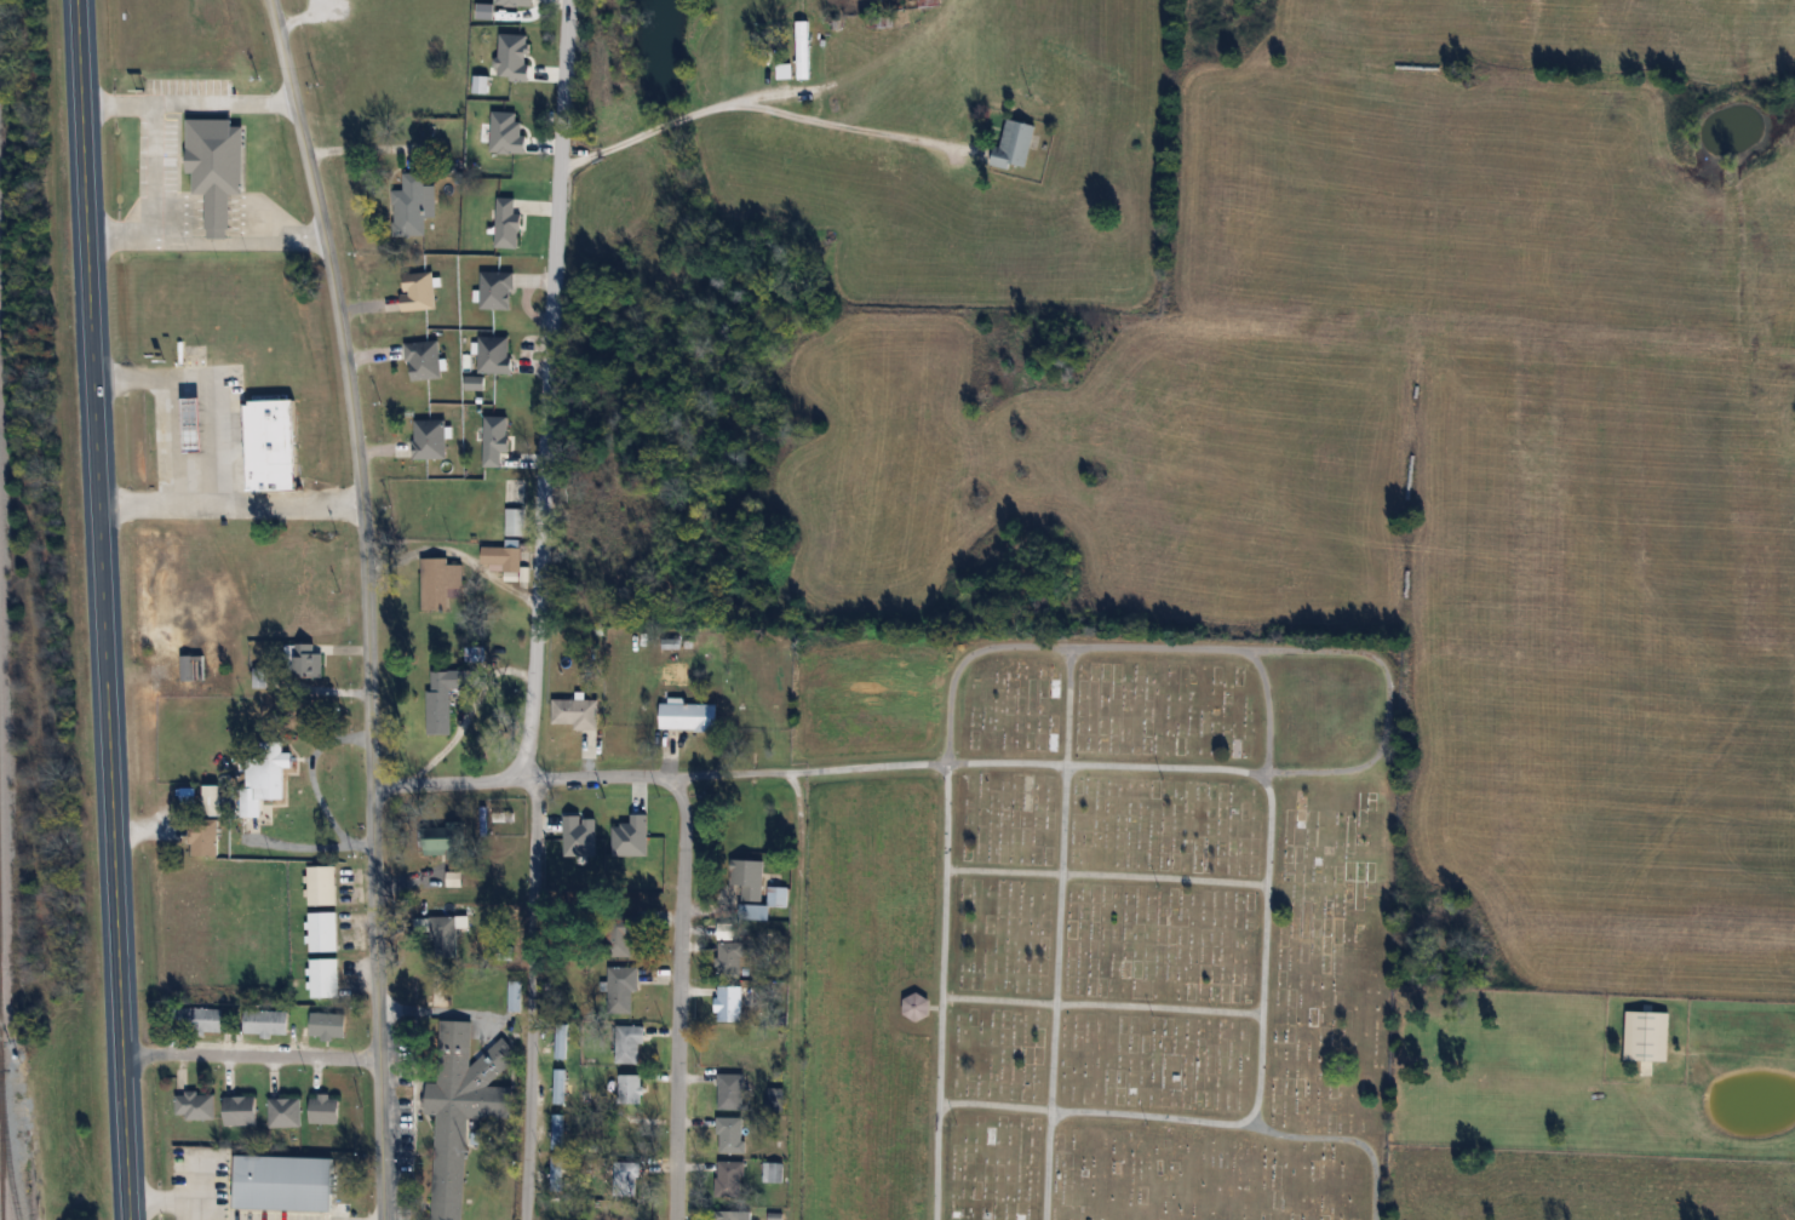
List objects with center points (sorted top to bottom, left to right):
building: (929, 2)
building: (804, 55)
building: (785, 75)
road: (768, 94)
road: (189, 101)
road: (755, 105)
road: (561, 139)
building: (1017, 150)
building: (218, 168)
building: (413, 206)
road: (125, 241)
road: (168, 241)
building: (419, 291)
building: (497, 291)
building: (494, 355)
building: (424, 360)
building: (195, 416)
building: (430, 440)
road: (161, 442)
building: (274, 446)
road: (224, 452)
road: (166, 506)
building: (515, 522)
building: (440, 583)
road: (368, 605)
road: (109, 609)
road: (1000, 646)
building: (475, 654)
building: (309, 660)
building: (194, 666)
building: (260, 677)
building: (684, 680)
building: (446, 695)
road: (1072, 706)
road: (1269, 706)
building: (578, 716)
building: (684, 720)
road: (527, 750)
road: (1025, 763)
building: (264, 778)
road: (580, 778)
building: (610, 818)
building: (208, 824)
building: (445, 840)
road: (1106, 875)
building: (749, 877)
building: (322, 884)
park: (1097, 923)
building: (323, 930)
building: (623, 934)
building: (445, 938)
road: (1263, 950)
building: (734, 958)
building: (325, 978)
building: (623, 989)
road: (1056, 992)
road: (797, 993)
building: (515, 996)
road: (682, 998)
building: (735, 1002)
road: (1101, 1004)
building: (917, 1006)
building: (201, 1019)
building: (266, 1023)
building: (328, 1026)
building: (1650, 1039)
building: (629, 1043)
building: (560, 1044)
road: (250, 1056)
building: (558, 1086)
building: (631, 1088)
building: (732, 1090)
building: (776, 1095)
building: (196, 1106)
building: (461, 1107)
building: (325, 1110)
building: (241, 1111)
building: (286, 1112)
road: (1191, 1119)
building: (557, 1130)
building: (630, 1132)
building: (730, 1134)
railway: (1, 1152)
building: (557, 1173)
building: (626, 1178)
building: (730, 1179)
building: (286, 1182)
road: (161, 1203)
building: (728, 1214)
building: (775, 1216)

